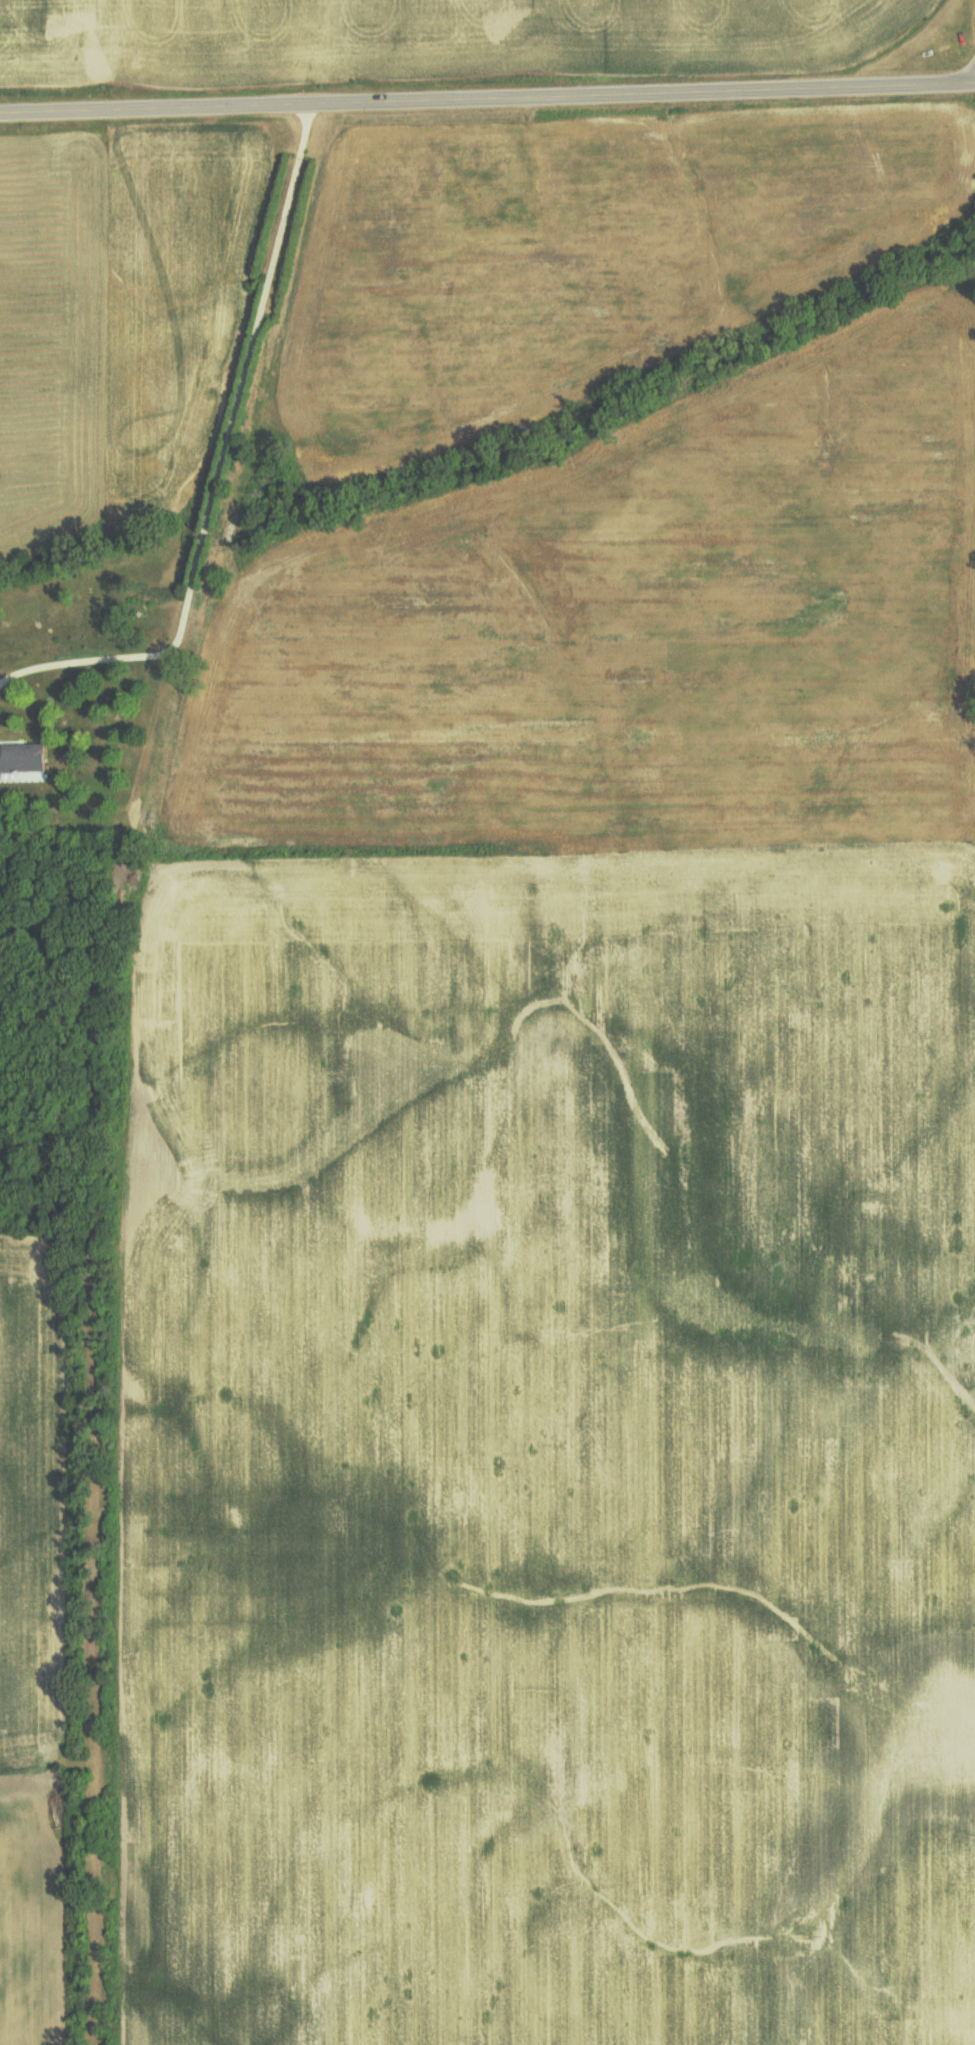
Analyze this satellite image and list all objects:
crop: (423, 37)
road: (487, 100)
crop: (582, 253)
crop: (116, 316)
road: (217, 461)
crop: (638, 635)
building: (22, 749)
crop: (556, 1459)
crop: (28, 1515)
crop: (30, 1920)

